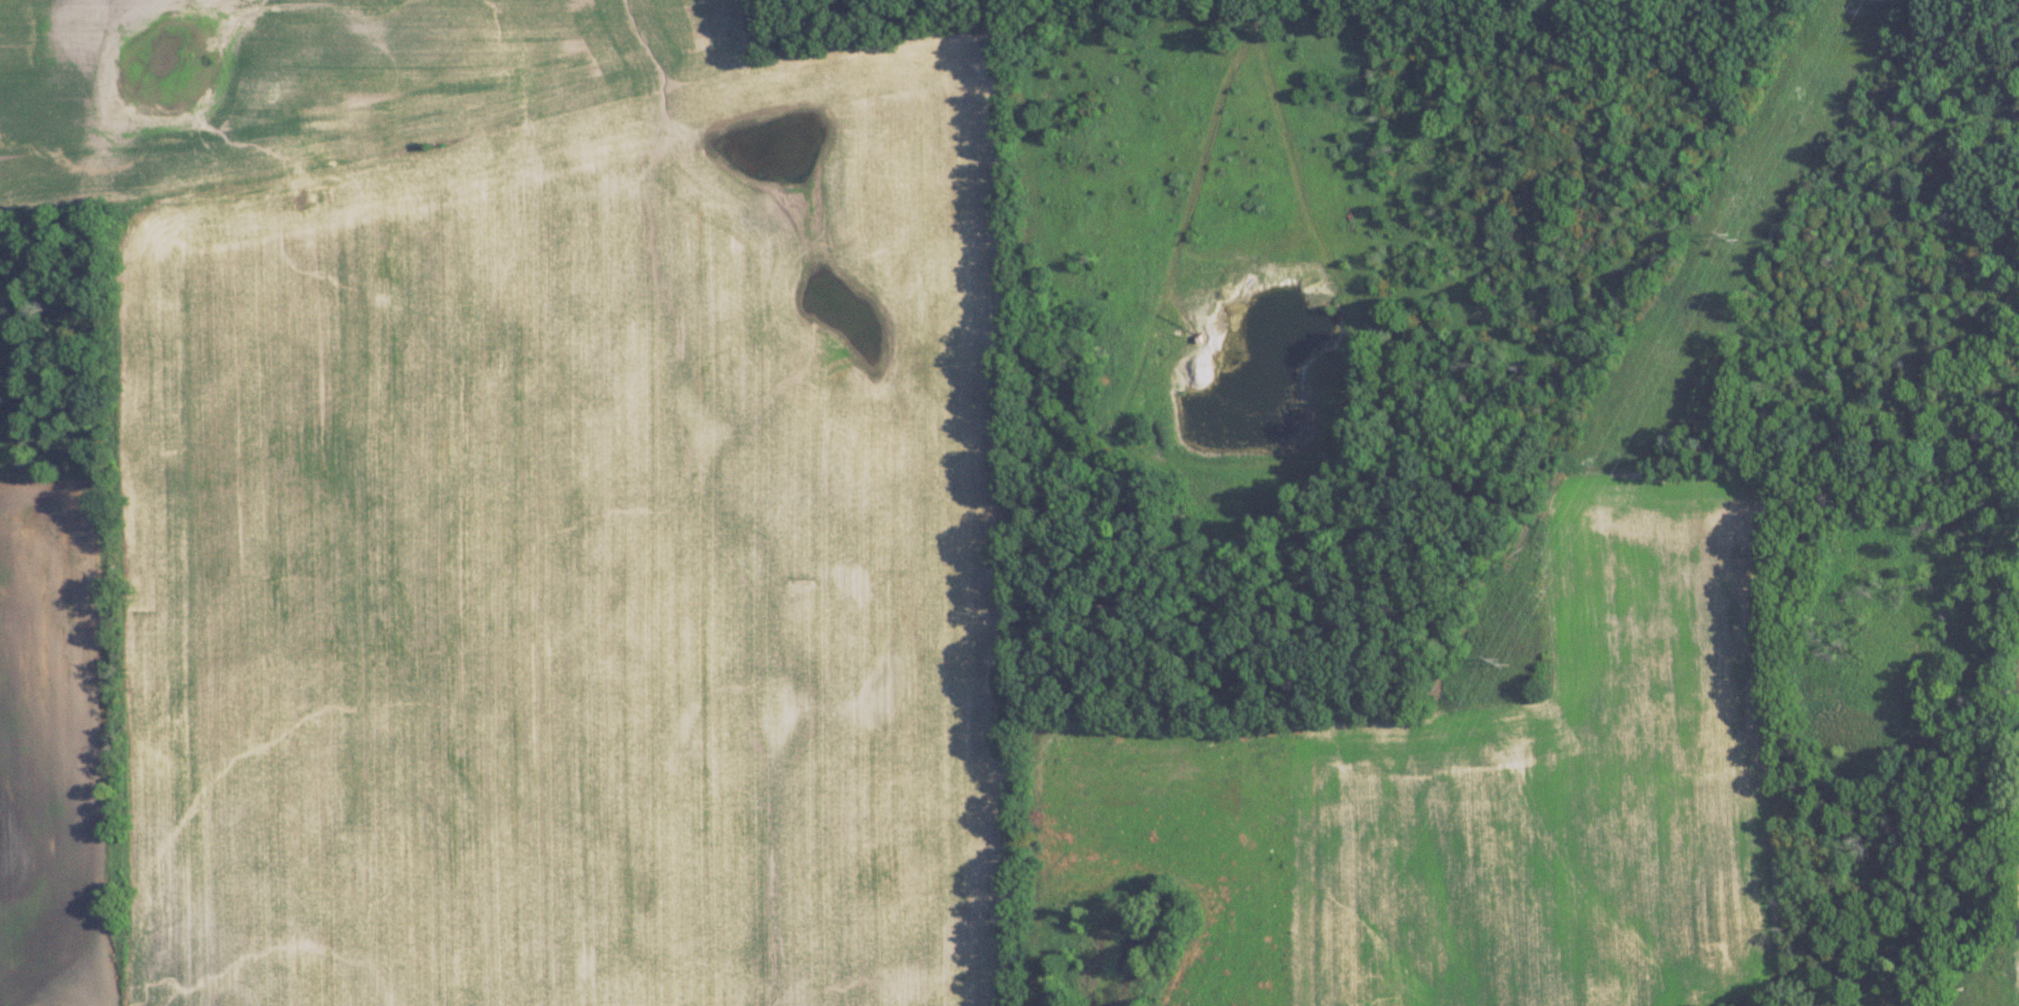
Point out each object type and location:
power tower: (1730, 231)
power tower: (1502, 660)

